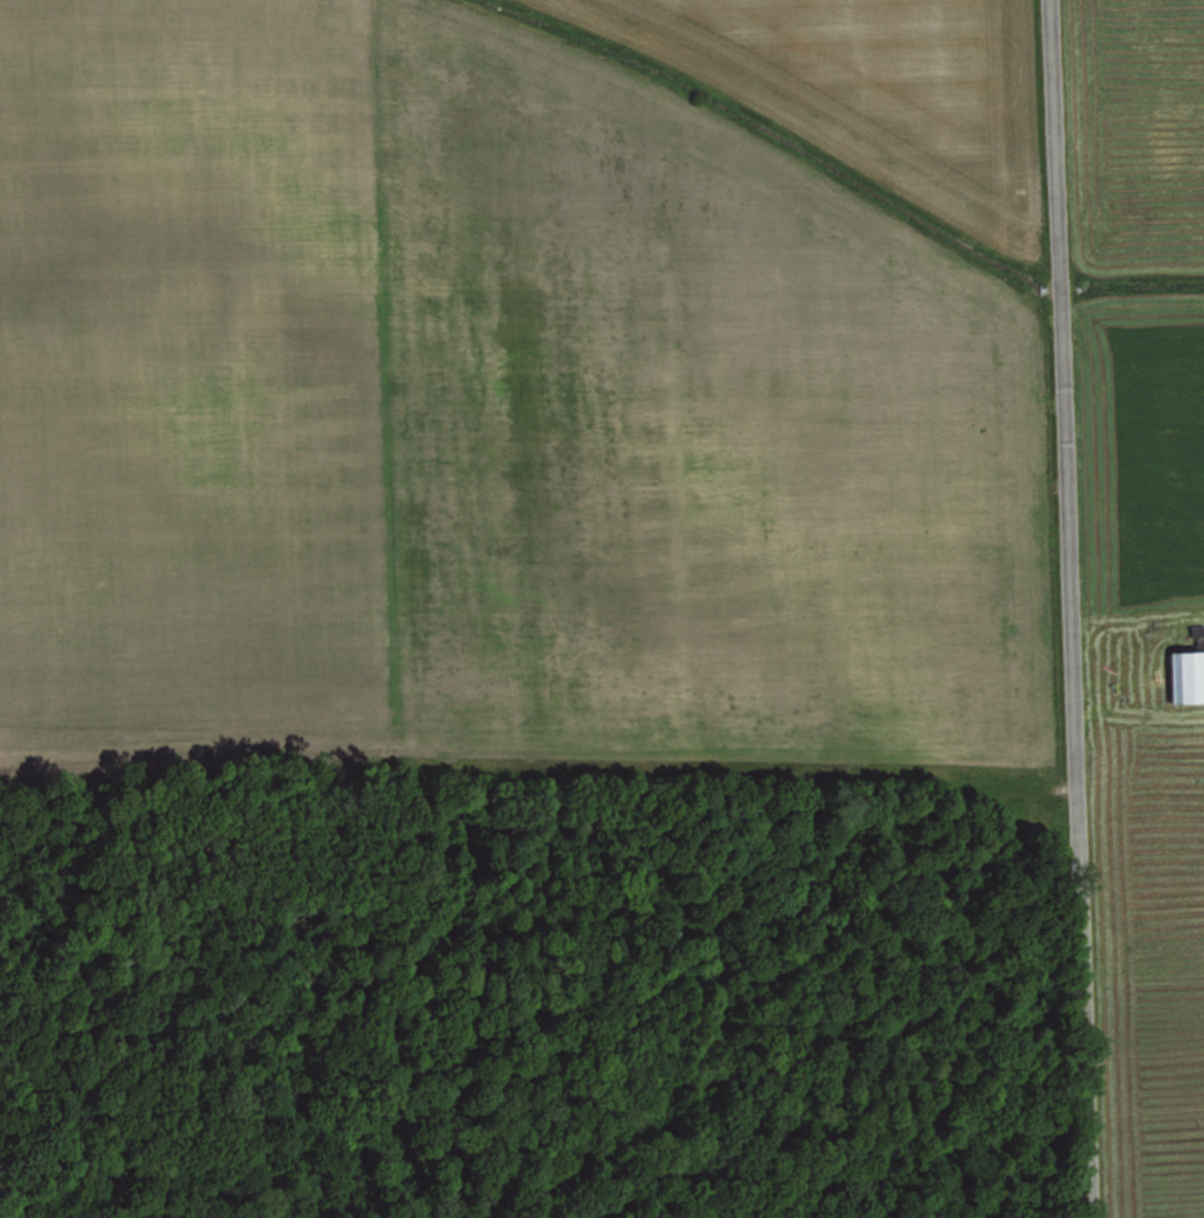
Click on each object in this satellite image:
road: (1067, 608)
building: (1186, 675)

